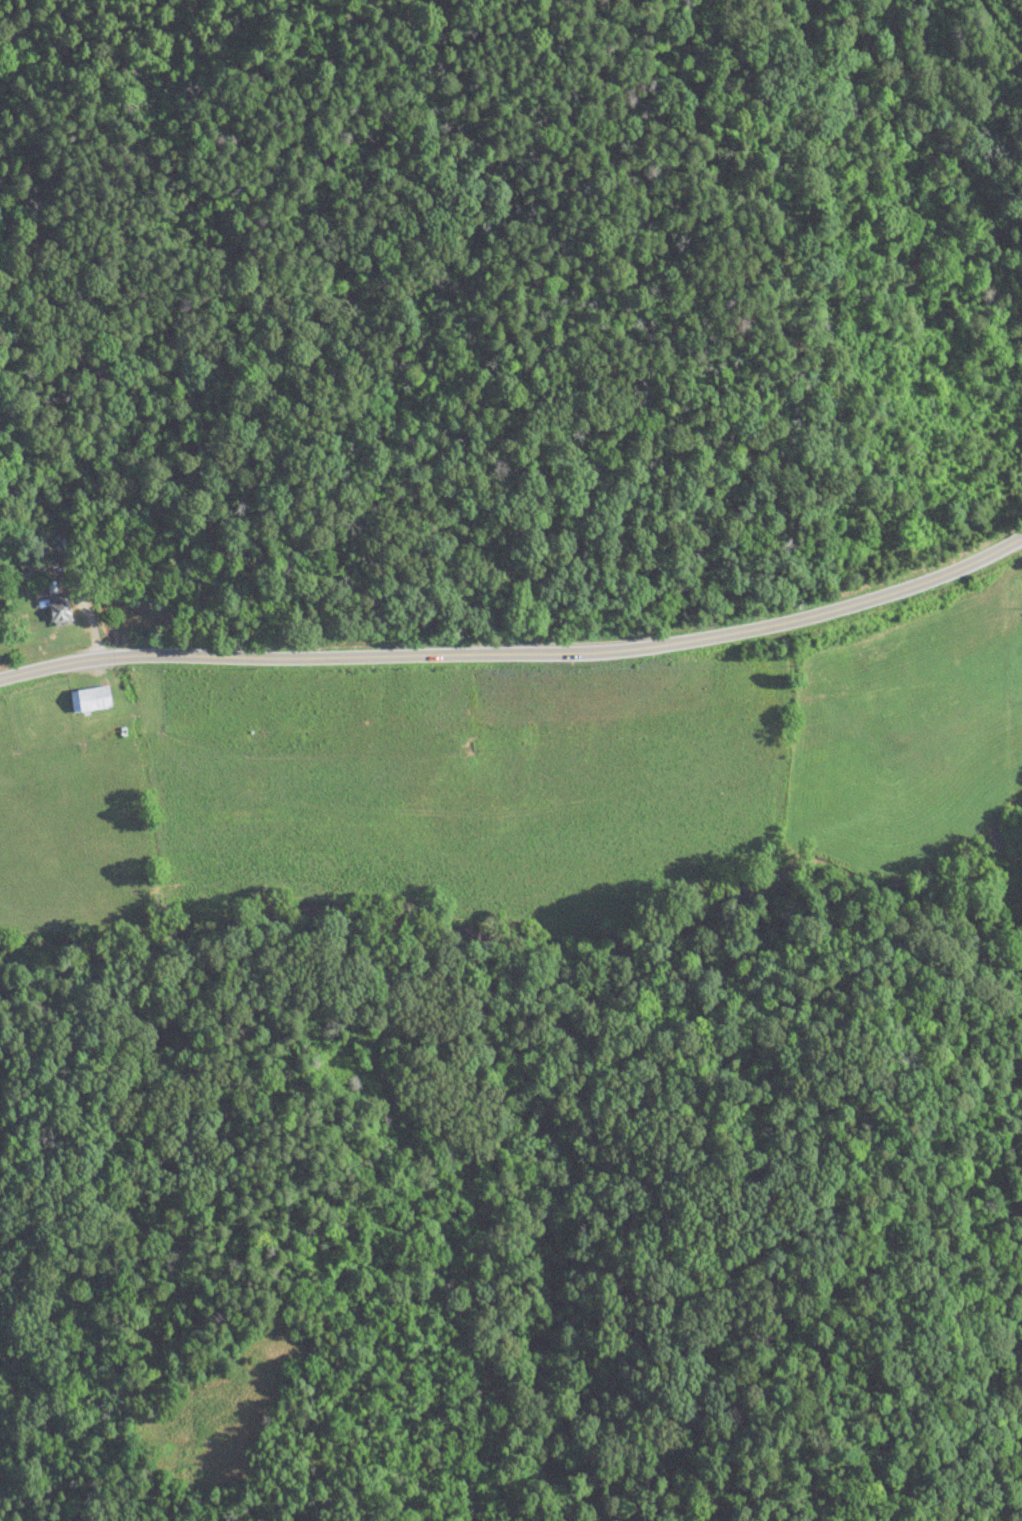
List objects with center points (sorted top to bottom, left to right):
road: (953, 163)
building: (34, 573)
building: (61, 613)
road: (517, 645)
building: (92, 699)

